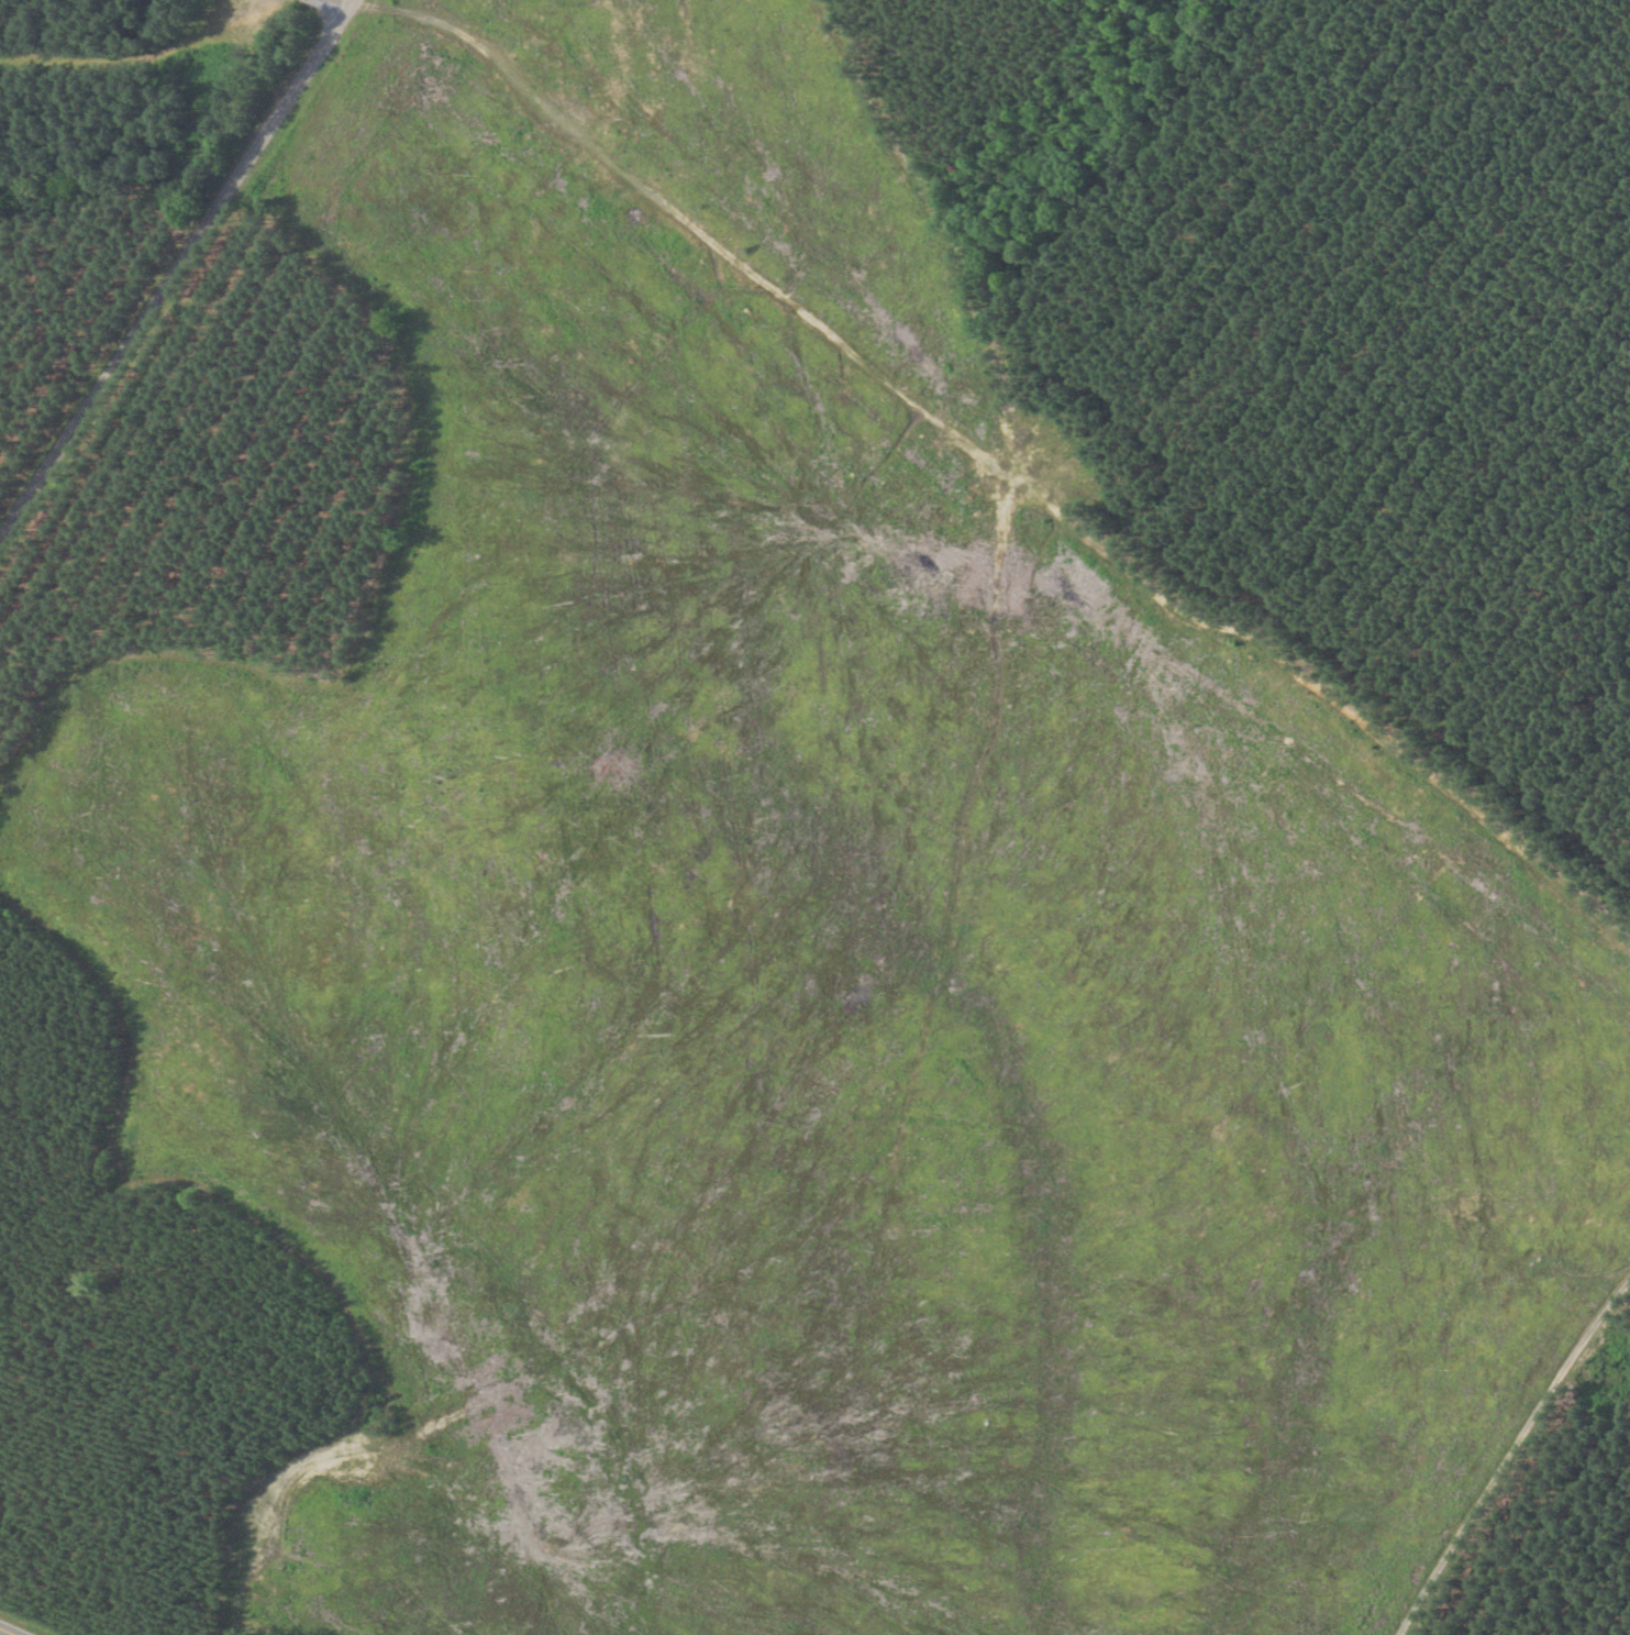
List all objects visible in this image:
road: (169, 265)

